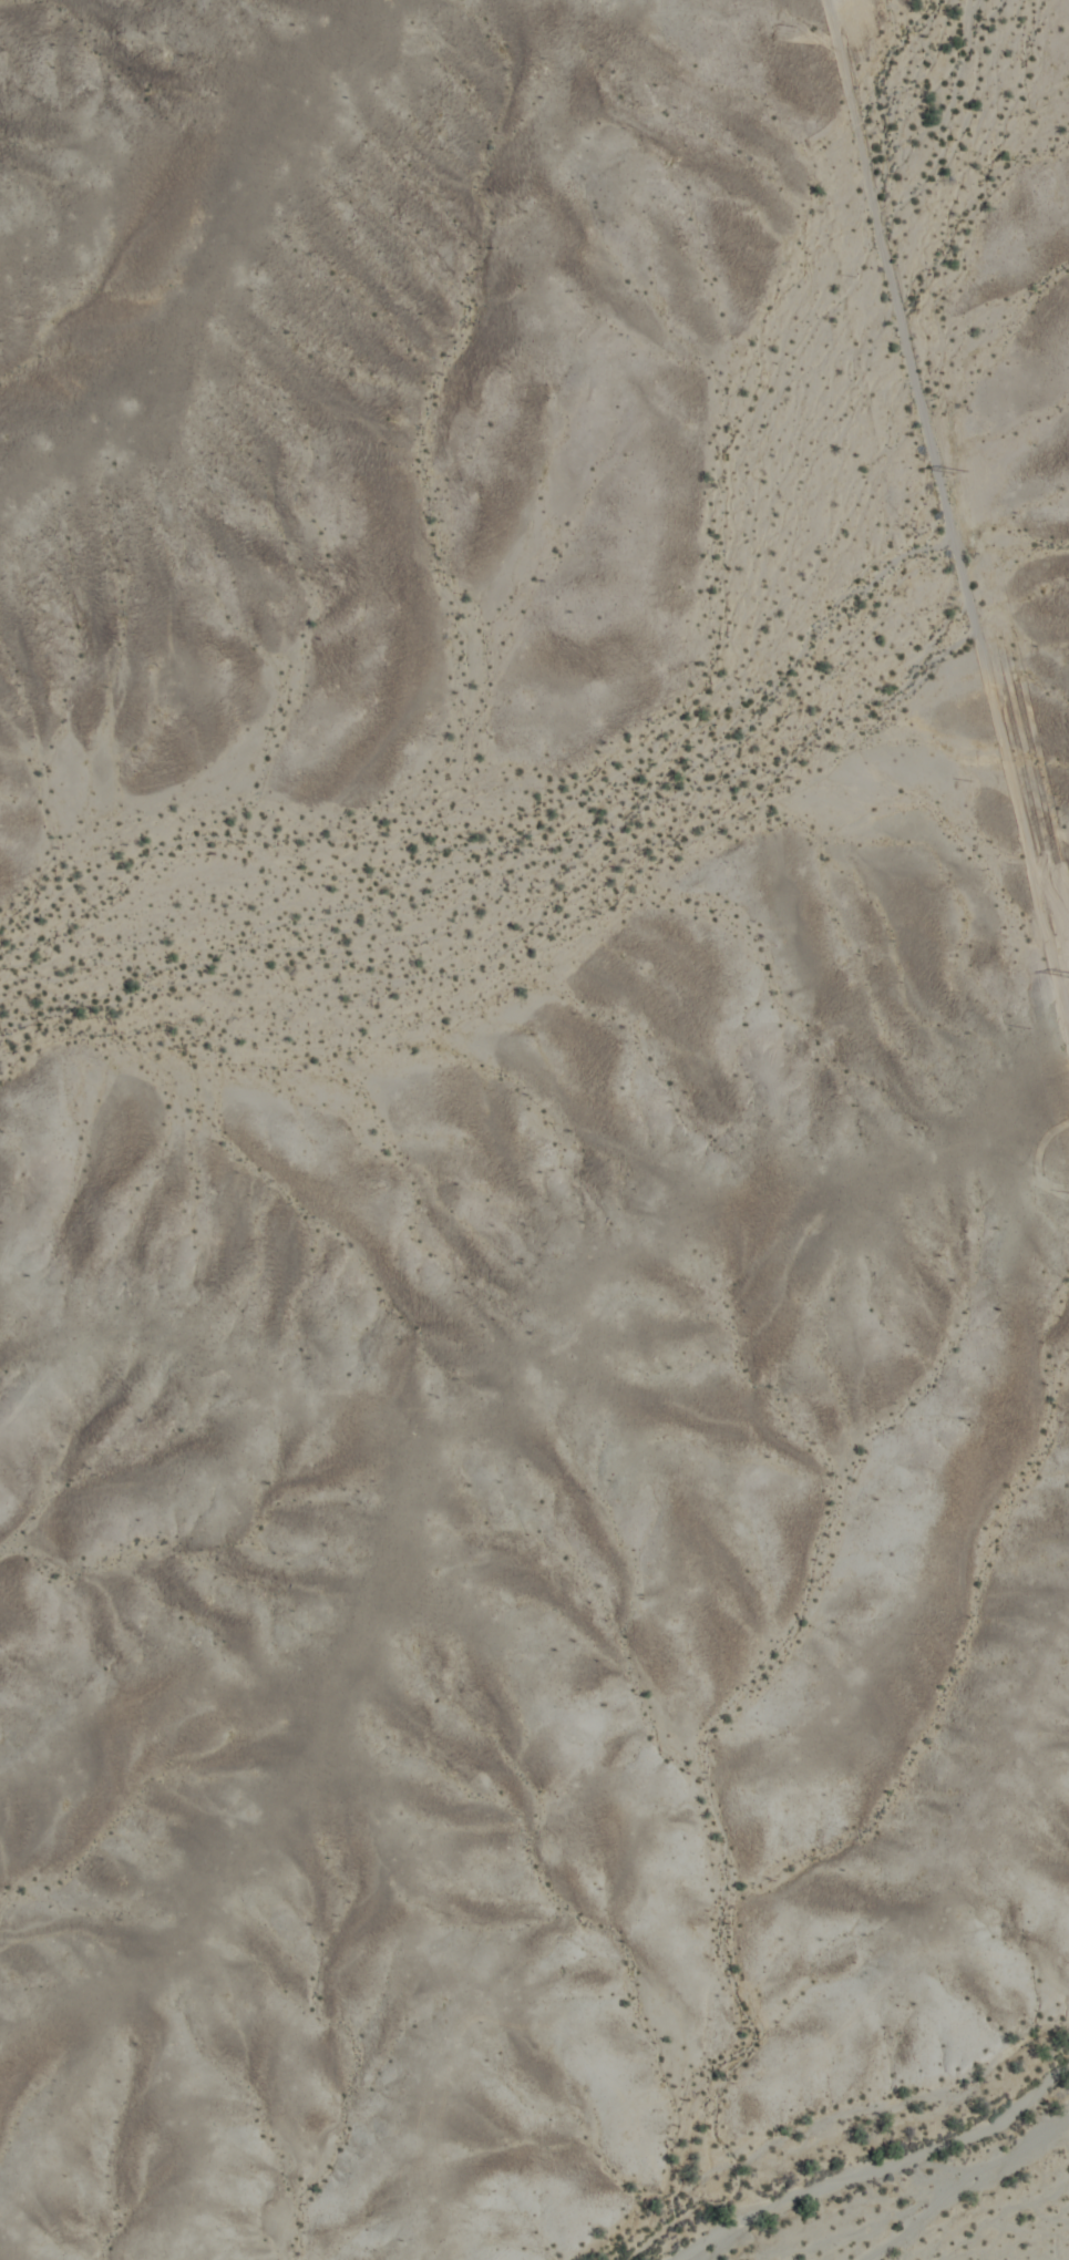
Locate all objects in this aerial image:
power tower: (964, 475)

